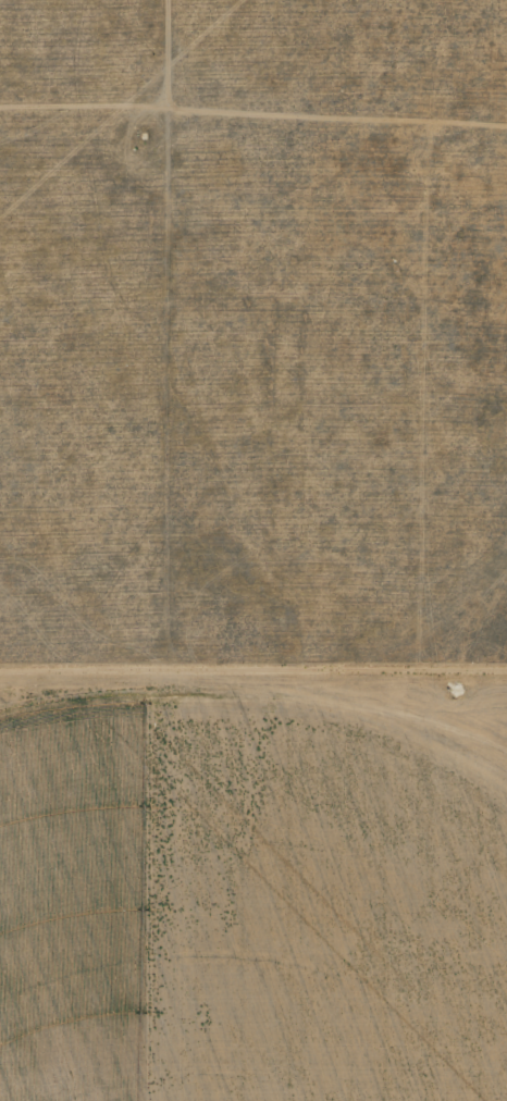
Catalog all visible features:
road: (417, 680)
road: (258, 701)

